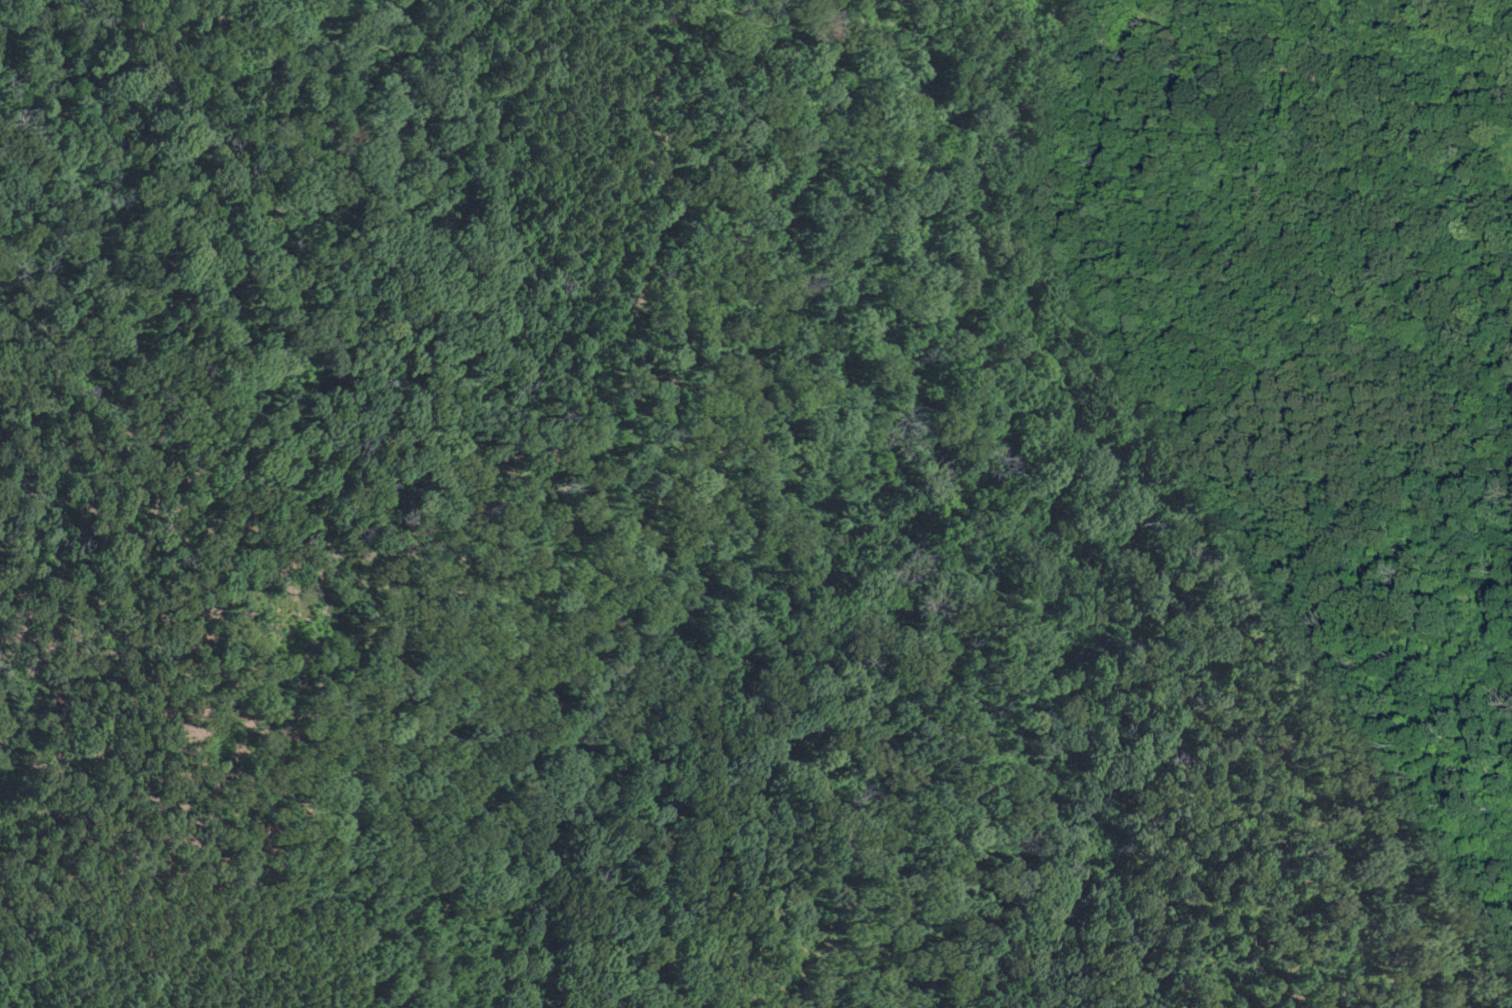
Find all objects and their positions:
road: (1321, 80)

